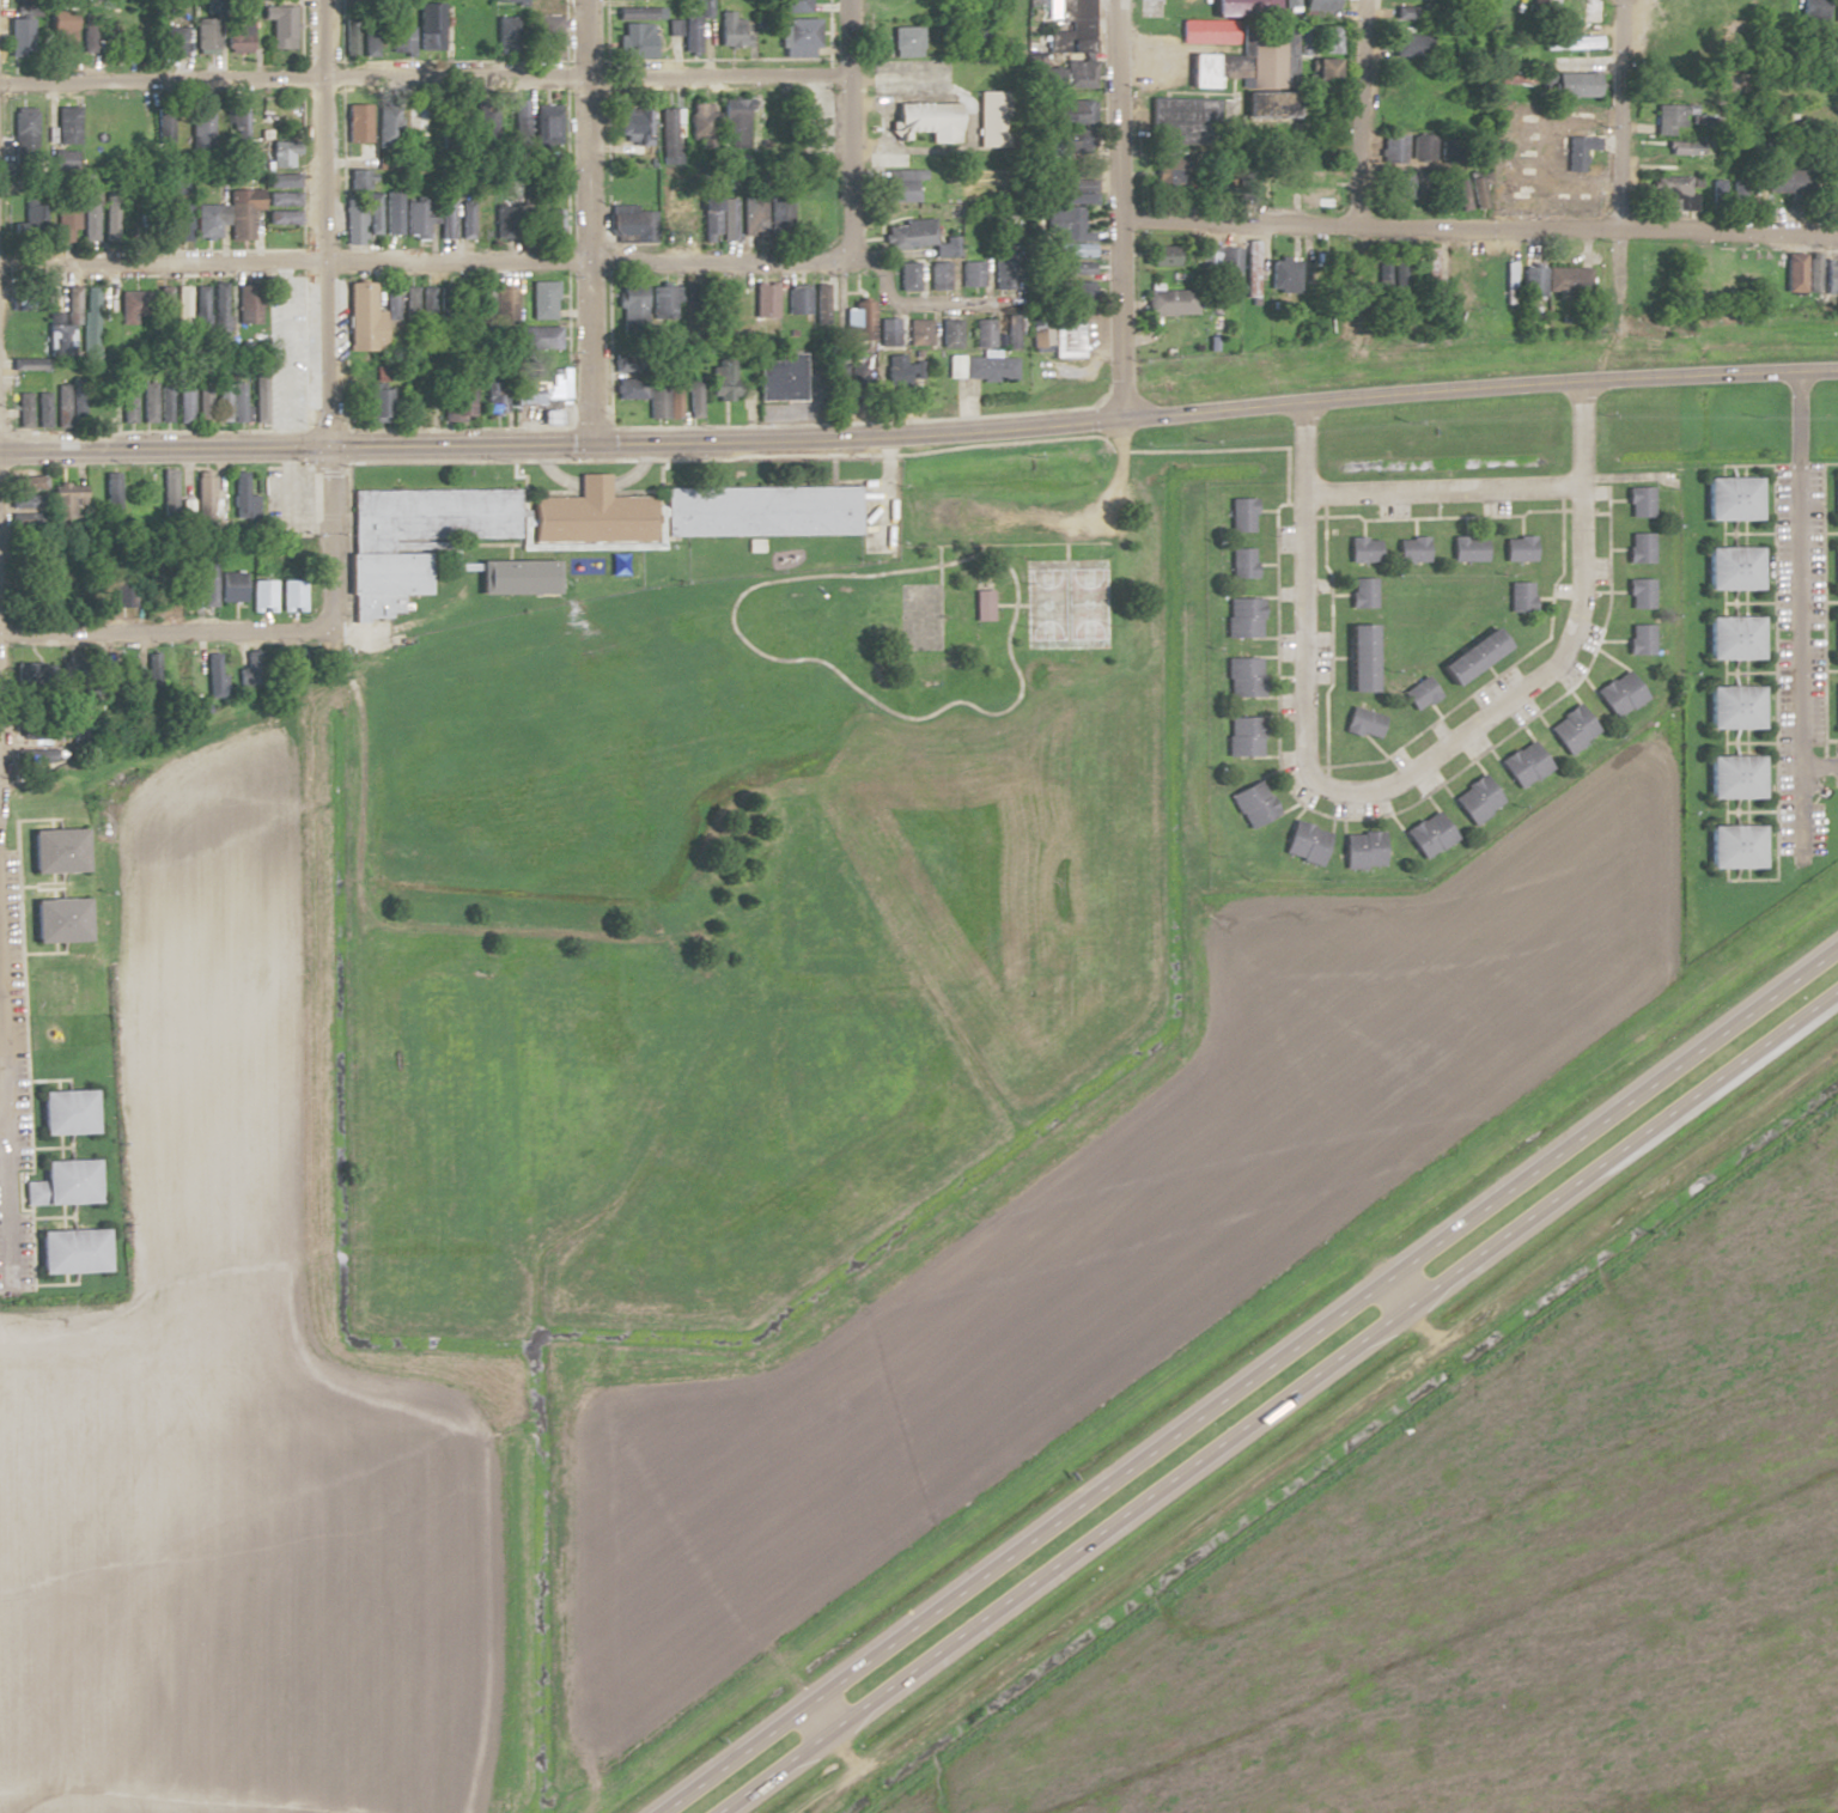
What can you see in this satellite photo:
building: (787, 6)
building: (1286, 6)
building: (1316, 6)
building: (1241, 8)
building: (1589, 10)
building: (1406, 12)
building: (1836, 12)
building: (632, 13)
building: (1483, 13)
building: (1812, 13)
building: (278, 25)
building: (689, 25)
building: (55, 31)
building: (726, 31)
building: (1204, 32)
building: (203, 35)
building: (235, 35)
building: (480, 35)
building: (18, 36)
building: (509, 36)
building: (795, 36)
building: (84, 37)
building: (543, 37)
building: (902, 38)
building: (398, 39)
building: (633, 41)
building: (1069, 41)
building: (1322, 41)
building: (171, 43)
building: (1570, 43)
building: (366, 44)
building: (1405, 44)
building: (1267, 55)
building: (1197, 71)
building: (1322, 72)
road: (626, 73)
road: (157, 80)
building: (1406, 81)
building: (1575, 85)
building: (1266, 107)
road: (1358, 111)
building: (517, 112)
building: (1077, 112)
building: (1410, 112)
building: (1186, 117)
building: (1670, 117)
building: (923, 121)
building: (414, 123)
building: (698, 123)
building: (729, 123)
building: (354, 124)
building: (541, 124)
building: (628, 124)
building: (65, 127)
building: (665, 127)
building: (235, 128)
building: (384, 128)
building: (20, 130)
building: (163, 130)
road: (846, 130)
building: (1833, 135)
building: (1075, 141)
building: (284, 144)
building: (1422, 147)
building: (1390, 148)
building: (1576, 152)
building: (1832, 154)
road: (1619, 158)
building: (1164, 169)
building: (1833, 178)
building: (1073, 183)
building: (1790, 183)
building: (1398, 184)
building: (1676, 184)
building: (897, 185)
building: (1244, 185)
building: (279, 190)
building: (1478, 200)
building: (1832, 203)
road: (1114, 207)
building: (357, 208)
building: (777, 211)
building: (388, 214)
building: (675, 214)
building: (702, 214)
building: (31, 215)
building: (750, 215)
building: (223, 217)
building: (65, 218)
building: (101, 218)
building: (279, 218)
building: (440, 219)
building: (725, 219)
building: (412, 220)
building: (463, 220)
building: (497, 221)
road: (577, 221)
building: (182, 223)
building: (552, 223)
building: (628, 223)
building: (159, 224)
building: (1054, 224)
road: (1475, 224)
building: (905, 236)
building: (1164, 255)
building: (1215, 261)
road: (594, 263)
road: (158, 267)
building: (1071, 268)
building: (1249, 269)
building: (1430, 272)
building: (1795, 272)
building: (1724, 273)
building: (968, 274)
building: (999, 274)
building: (1821, 274)
building: (905, 275)
building: (936, 275)
building: (1692, 275)
building: (1282, 276)
building: (1382, 278)
building: (1401, 279)
building: (1453, 280)
building: (1569, 280)
building: (1474, 281)
building: (1534, 281)
building: (1510, 282)
building: (1077, 291)
building: (761, 299)
building: (538, 300)
building: (621, 300)
building: (795, 300)
building: (92, 302)
building: (406, 303)
building: (424, 303)
building: (1168, 303)
building: (388, 304)
building: (658, 304)
building: (817, 304)
building: (244, 305)
building: (477, 306)
building: (129, 308)
building: (172, 308)
building: (500, 308)
building: (217, 309)
building: (196, 310)
road: (316, 312)
building: (357, 316)
building: (856, 322)
building: (62, 326)
building: (1011, 331)
building: (1036, 331)
building: (917, 333)
building: (947, 333)
building: (980, 333)
building: (1065, 334)
building: (537, 337)
building: (979, 367)
building: (26, 372)
building: (717, 379)
building: (777, 379)
building: (625, 384)
building: (535, 388)
road: (1368, 394)
building: (376, 395)
building: (414, 397)
building: (489, 397)
building: (658, 399)
building: (452, 400)
building: (124, 401)
building: (152, 401)
building: (226, 401)
building: (254, 402)
building: (179, 403)
building: (63, 404)
building: (199, 404)
building: (20, 409)
building: (39, 409)
road: (608, 443)
road: (158, 451)
building: (29, 481)
road: (1440, 489)
building: (104, 491)
building: (164, 491)
building: (136, 493)
building: (237, 494)
building: (61, 499)
building: (197, 499)
building: (1637, 500)
building: (23, 503)
building: (1836, 506)
building: (1728, 509)
building: (756, 510)
building: (586, 512)
building: (424, 513)
building: (1240, 513)
road: (1073, 518)
road: (1302, 524)
road: (1005, 543)
building: (1637, 546)
building: (1517, 547)
building: (1410, 548)
building: (1466, 548)
building: (1362, 549)
road: (1066, 552)
building: (1240, 561)
road: (939, 562)
building: (378, 571)
building: (1836, 573)
building: (509, 574)
building: (1729, 574)
building: (202, 582)
building: (38, 583)
building: (225, 585)
building: (1361, 591)
building: (1638, 592)
building: (257, 594)
building: (287, 594)
building: (1519, 595)
park: (1067, 603)
building: (367, 604)
building: (981, 604)
road: (1010, 604)
building: (1241, 616)
road: (1800, 617)
road: (157, 634)
building: (1638, 638)
building: (1837, 645)
building: (1730, 646)
building: (1469, 655)
building: (1358, 656)
building: (247, 667)
building: (209, 675)
building: (1243, 676)
road: (860, 690)
building: (1418, 693)
building: (1618, 693)
road: (1503, 702)
building: (1837, 712)
building: (1730, 717)
building: (1362, 722)
building: (28, 729)
building: (1570, 729)
building: (1242, 735)
building: (37, 753)
building: (1522, 763)
road: (1820, 767)
building: (1729, 786)
building: (1474, 799)
building: (1252, 802)
building: (1426, 834)
building: (1303, 841)
building: (50, 848)
building: (1359, 848)
building: (1732, 854)
building: (53, 919)
road: (513, 933)
building: (61, 1112)
road: (2, 1131)
road: (6, 1152)
building: (59, 1182)
building: (66, 1251)
road: (1407, 1310)
road: (1248, 1381)
road: (1276, 1400)
road: (1313, 1425)
road: (826, 1740)

